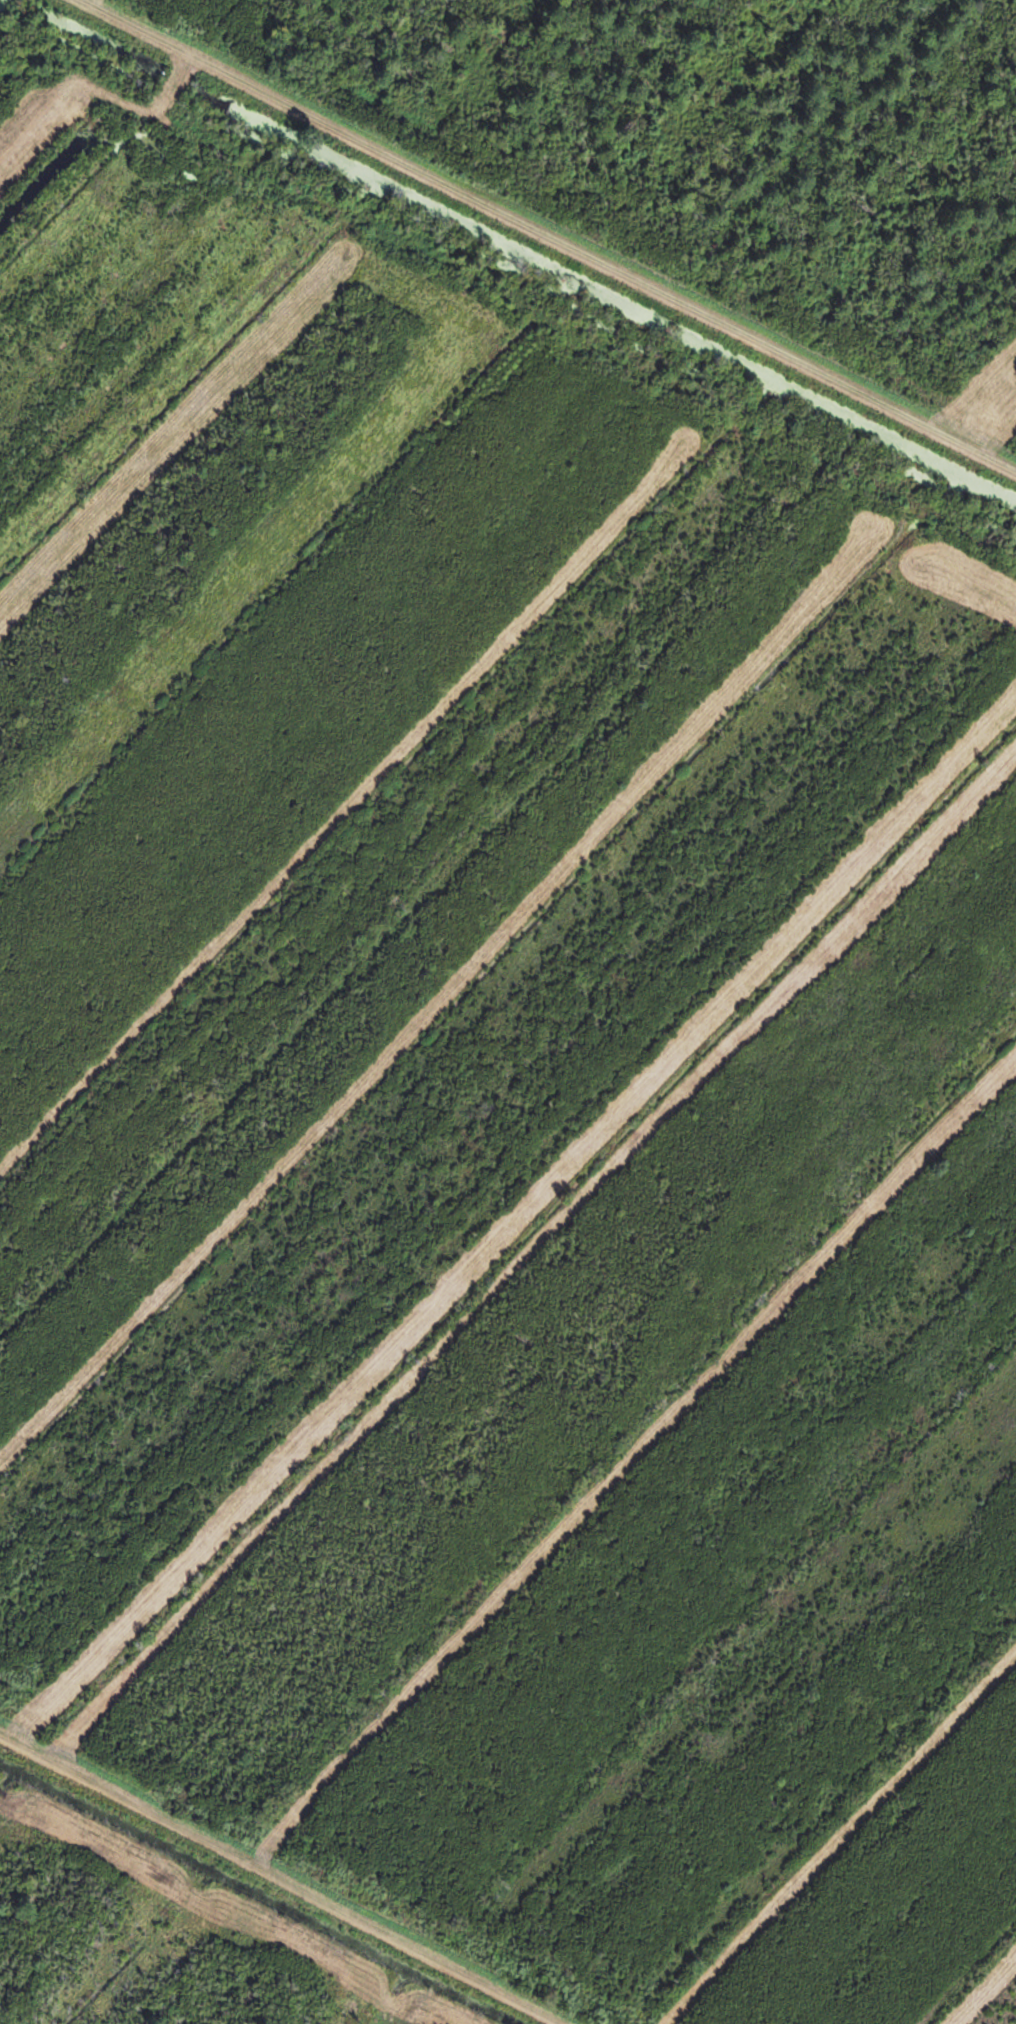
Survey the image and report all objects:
road: (545, 240)
road: (292, 1875)

